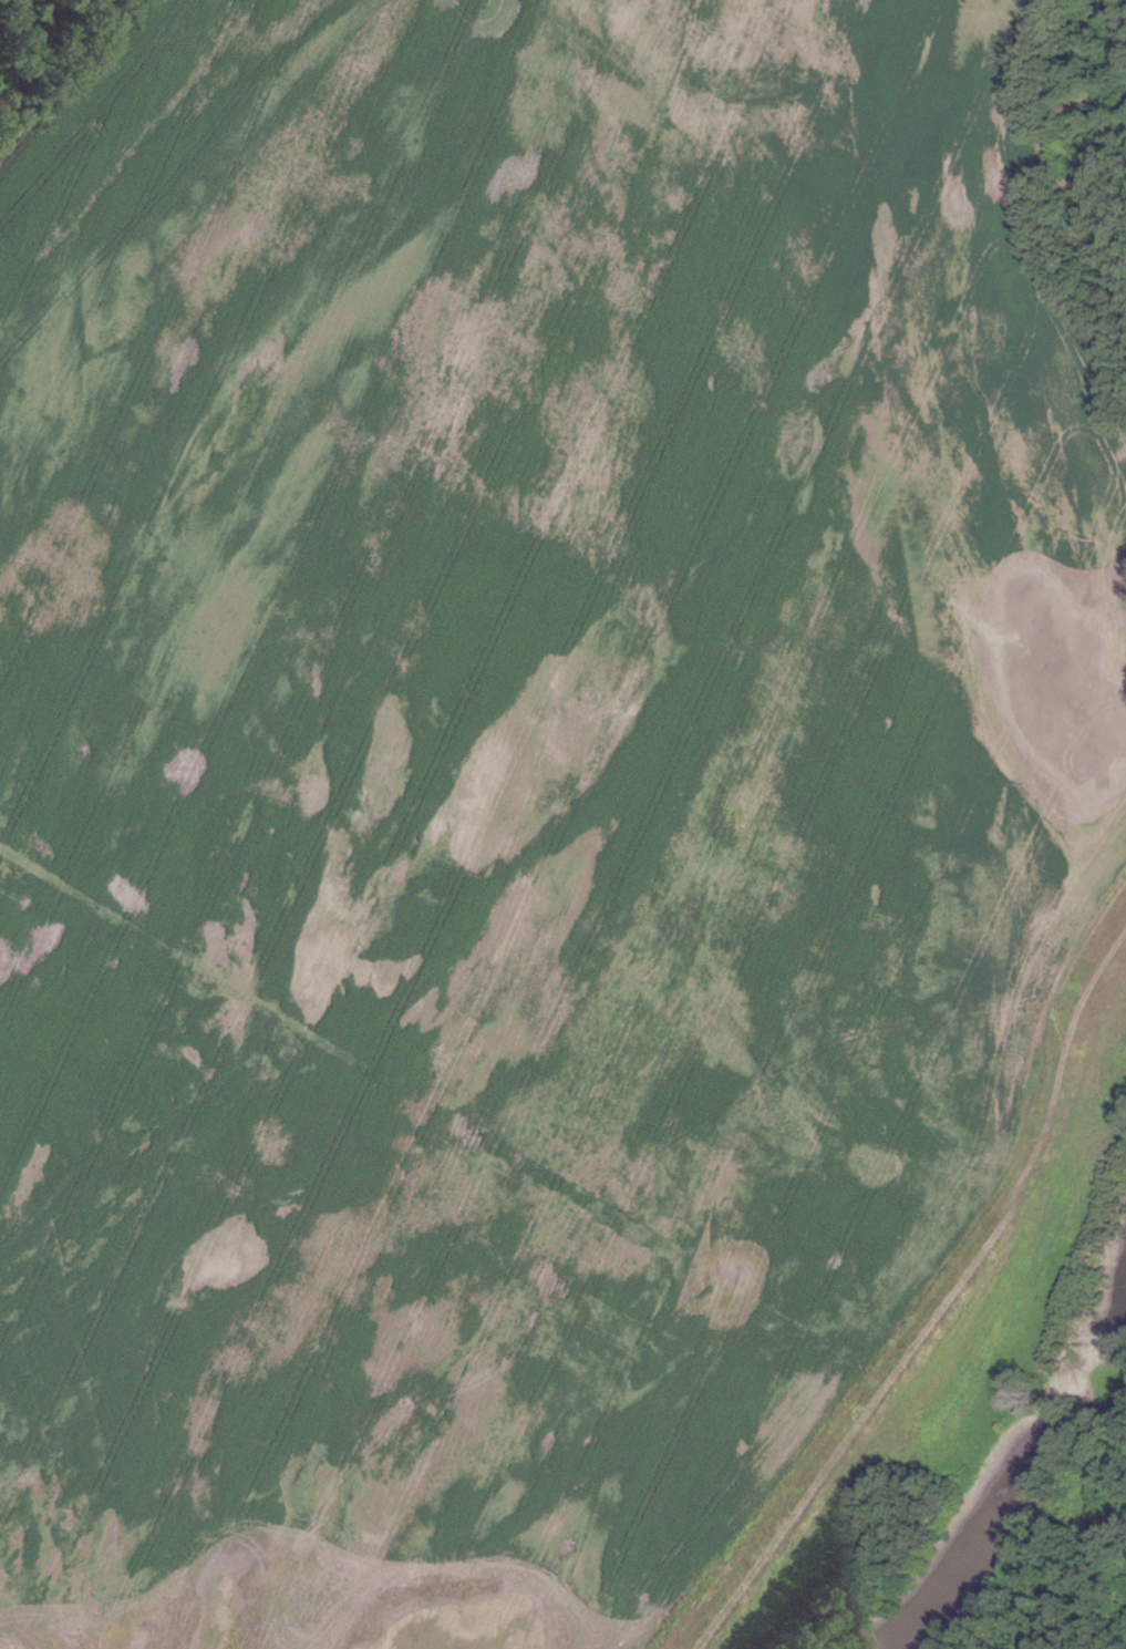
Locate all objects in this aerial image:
crop: (513, 779)
road: (937, 1305)

